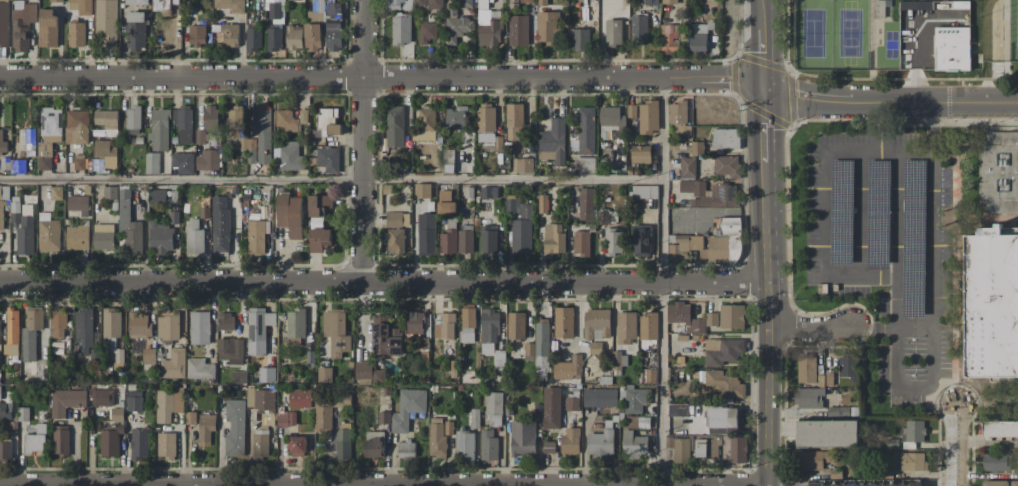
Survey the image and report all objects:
building: (55, 0)
building: (526, 1)
building: (669, 1)
building: (136, 2)
building: (418, 2)
building: (647, 2)
building: (541, 3)
building: (400, 4)
building: (434, 4)
building: (465, 4)
building: (229, 5)
building: (916, 5)
building: (80, 6)
building: (161, 6)
building: (878, 8)
building: (450, 9)
building: (274, 10)
building: (105, 22)
building: (4, 23)
building: (21, 24)
building: (313, 25)
building: (488, 26)
building: (47, 27)
building: (332, 27)
building: (546, 27)
building: (456, 28)
building: (400, 29)
building: (638, 29)
building: (135, 30)
building: (517, 30)
building: (426, 31)
building: (612, 32)
building: (75, 34)
building: (196, 34)
building: (228, 34)
building: (292, 37)
building: (698, 37)
building: (668, 38)
building: (252, 39)
building: (274, 39)
building: (580, 39)
park: (904, 39)
building: (952, 49)
road: (381, 78)
road: (890, 101)
building: (630, 110)
building: (303, 116)
building: (234, 117)
building: (610, 117)
building: (648, 117)
building: (678, 117)
building: (209, 118)
building: (132, 119)
building: (513, 119)
building: (286, 120)
building: (327, 120)
building: (107, 121)
building: (182, 122)
building: (454, 122)
building: (485, 122)
building: (50, 124)
building: (424, 124)
building: (394, 126)
building: (75, 127)
building: (159, 129)
building: (586, 130)
building: (262, 133)
building: (199, 137)
building: (725, 138)
building: (26, 139)
building: (213, 140)
road: (365, 140)
building: (552, 141)
building: (242, 143)
building: (2, 144)
building: (497, 144)
building: (697, 148)
road: (863, 150)
building: (250, 151)
building: (640, 153)
building: (103, 155)
building: (289, 155)
building: (44, 156)
building: (327, 158)
building: (207, 160)
building: (447, 160)
building: (78, 162)
building: (182, 162)
building: (4, 163)
building: (151, 163)
building: (583, 163)
building: (522, 165)
building: (17, 166)
building: (726, 166)
building: (687, 167)
building: (999, 171)
road: (331, 180)
building: (692, 187)
building: (386, 189)
building: (422, 190)
building: (643, 191)
building: (468, 192)
building: (488, 192)
building: (55, 193)
building: (109, 193)
building: (717, 196)
building: (158, 198)
building: (3, 200)
building: (917, 201)
building: (445, 202)
building: (77, 204)
building: (318, 204)
building: (542, 204)
building: (586, 204)
building: (204, 212)
road: (824, 213)
building: (289, 214)
road: (861, 214)
building: (173, 217)
building: (605, 217)
building: (396, 219)
building: (128, 225)
building: (219, 225)
building: (519, 225)
building: (728, 226)
building: (21, 230)
building: (47, 233)
building: (425, 234)
building: (103, 236)
building: (256, 236)
building: (448, 236)
building: (77, 237)
building: (160, 237)
building: (193, 238)
building: (318, 238)
building: (553, 238)
road: (898, 238)
building: (465, 239)
building: (487, 239)
building: (395, 240)
building: (641, 240)
building: (611, 241)
building: (581, 242)
road: (766, 242)
building: (682, 245)
building: (721, 250)
road: (934, 273)
road: (861, 278)
road: (383, 281)
road: (662, 282)
building: (991, 303)
building: (731, 316)
building: (684, 317)
building: (711, 318)
building: (225, 321)
building: (414, 322)
building: (563, 322)
building: (57, 323)
building: (596, 323)
building: (467, 324)
building: (138, 325)
building: (294, 325)
building: (515, 325)
road: (811, 325)
road: (874, 325)
road: (916, 325)
building: (444, 326)
building: (625, 326)
building: (0, 327)
building: (110, 327)
building: (167, 327)
building: (199, 327)
building: (83, 329)
building: (257, 329)
building: (488, 329)
building: (648, 329)
building: (12, 331)
building: (335, 331)
building: (30, 332)
building: (384, 336)
building: (135, 347)
building: (541, 348)
building: (595, 348)
building: (229, 350)
building: (310, 350)
building: (721, 350)
building: (528, 351)
building: (93, 353)
building: (119, 355)
building: (148, 355)
building: (55, 357)
building: (499, 359)
building: (617, 360)
road: (897, 360)
building: (173, 363)
building: (847, 366)
building: (199, 368)
building: (568, 368)
building: (805, 368)
building: (362, 370)
building: (266, 374)
building: (323, 374)
building: (650, 375)
building: (237, 376)
building: (377, 376)
building: (722, 382)
road: (914, 390)
building: (0, 391)
building: (199, 395)
building: (102, 397)
building: (599, 397)
building: (808, 397)
building: (299, 398)
building: (571, 399)
building: (634, 399)
building: (332, 400)
building: (66, 401)
building: (133, 403)
building: (167, 403)
building: (261, 404)
building: (550, 407)
building: (407, 408)
building: (493, 408)
building: (5, 410)
building: (677, 410)
building: (836, 411)
building: (22, 414)
building: (116, 414)
building: (189, 417)
building: (284, 417)
building: (322, 417)
building: (383, 417)
building: (474, 418)
building: (720, 418)
building: (637, 421)
building: (234, 427)
building: (448, 427)
building: (204, 428)
building: (999, 430)
building: (827, 433)
building: (912, 433)
building: (436, 438)
building: (522, 438)
building: (35, 439)
building: (109, 439)
building: (60, 440)
building: (570, 440)
building: (342, 441)
building: (138, 443)
building: (259, 443)
building: (599, 443)
building: (891, 443)
building: (165, 444)
building: (373, 444)
building: (633, 444)
road: (956, 444)
road: (987, 444)
building: (296, 445)
building: (463, 445)
building: (488, 445)
building: (707, 446)
building: (548, 447)
building: (679, 447)
building: (406, 449)
building: (5, 450)
building: (738, 450)
building: (813, 459)
building: (909, 461)
building: (995, 462)
building: (995, 483)
building: (1014, 483)
building: (870, 485)

